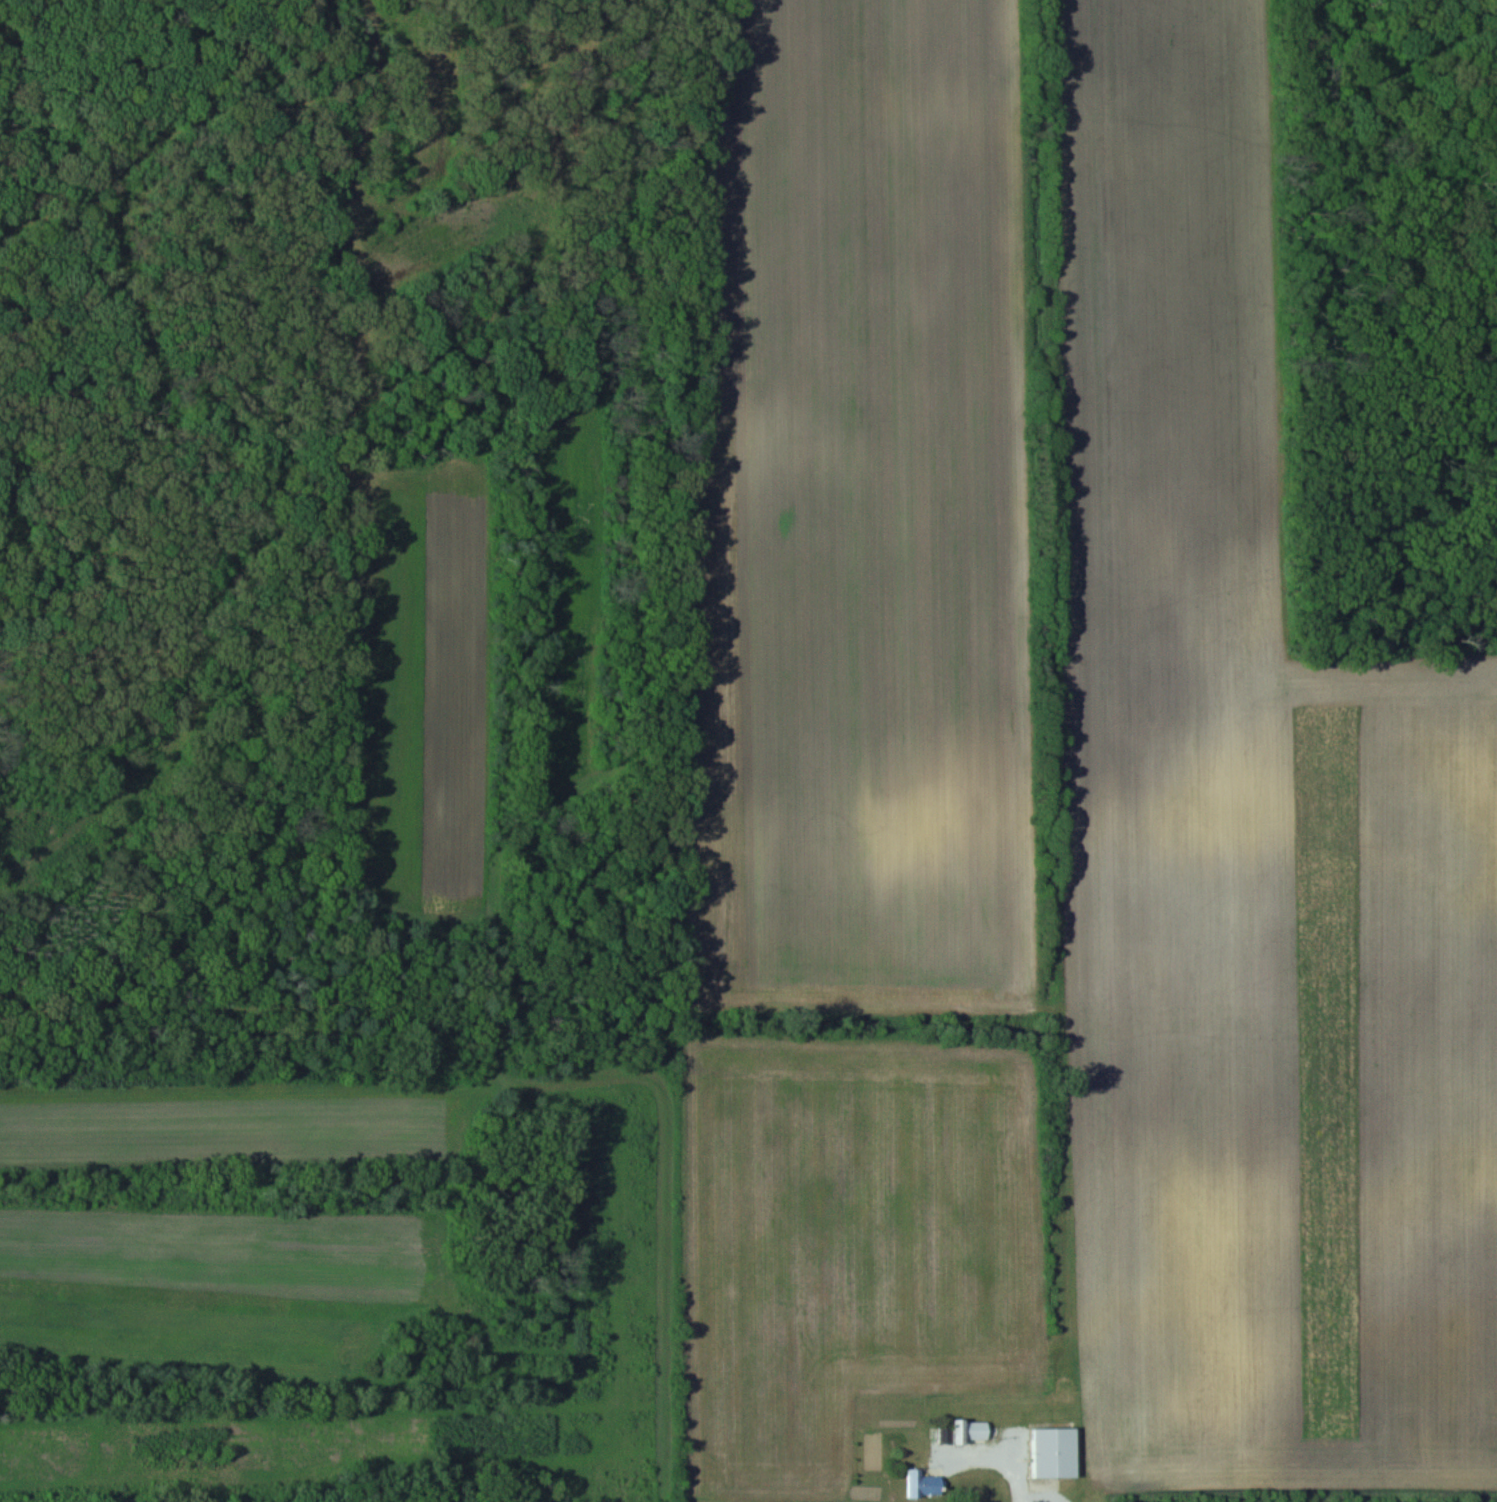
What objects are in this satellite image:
building: (964, 1431)
building: (1052, 1452)
building: (922, 1485)

